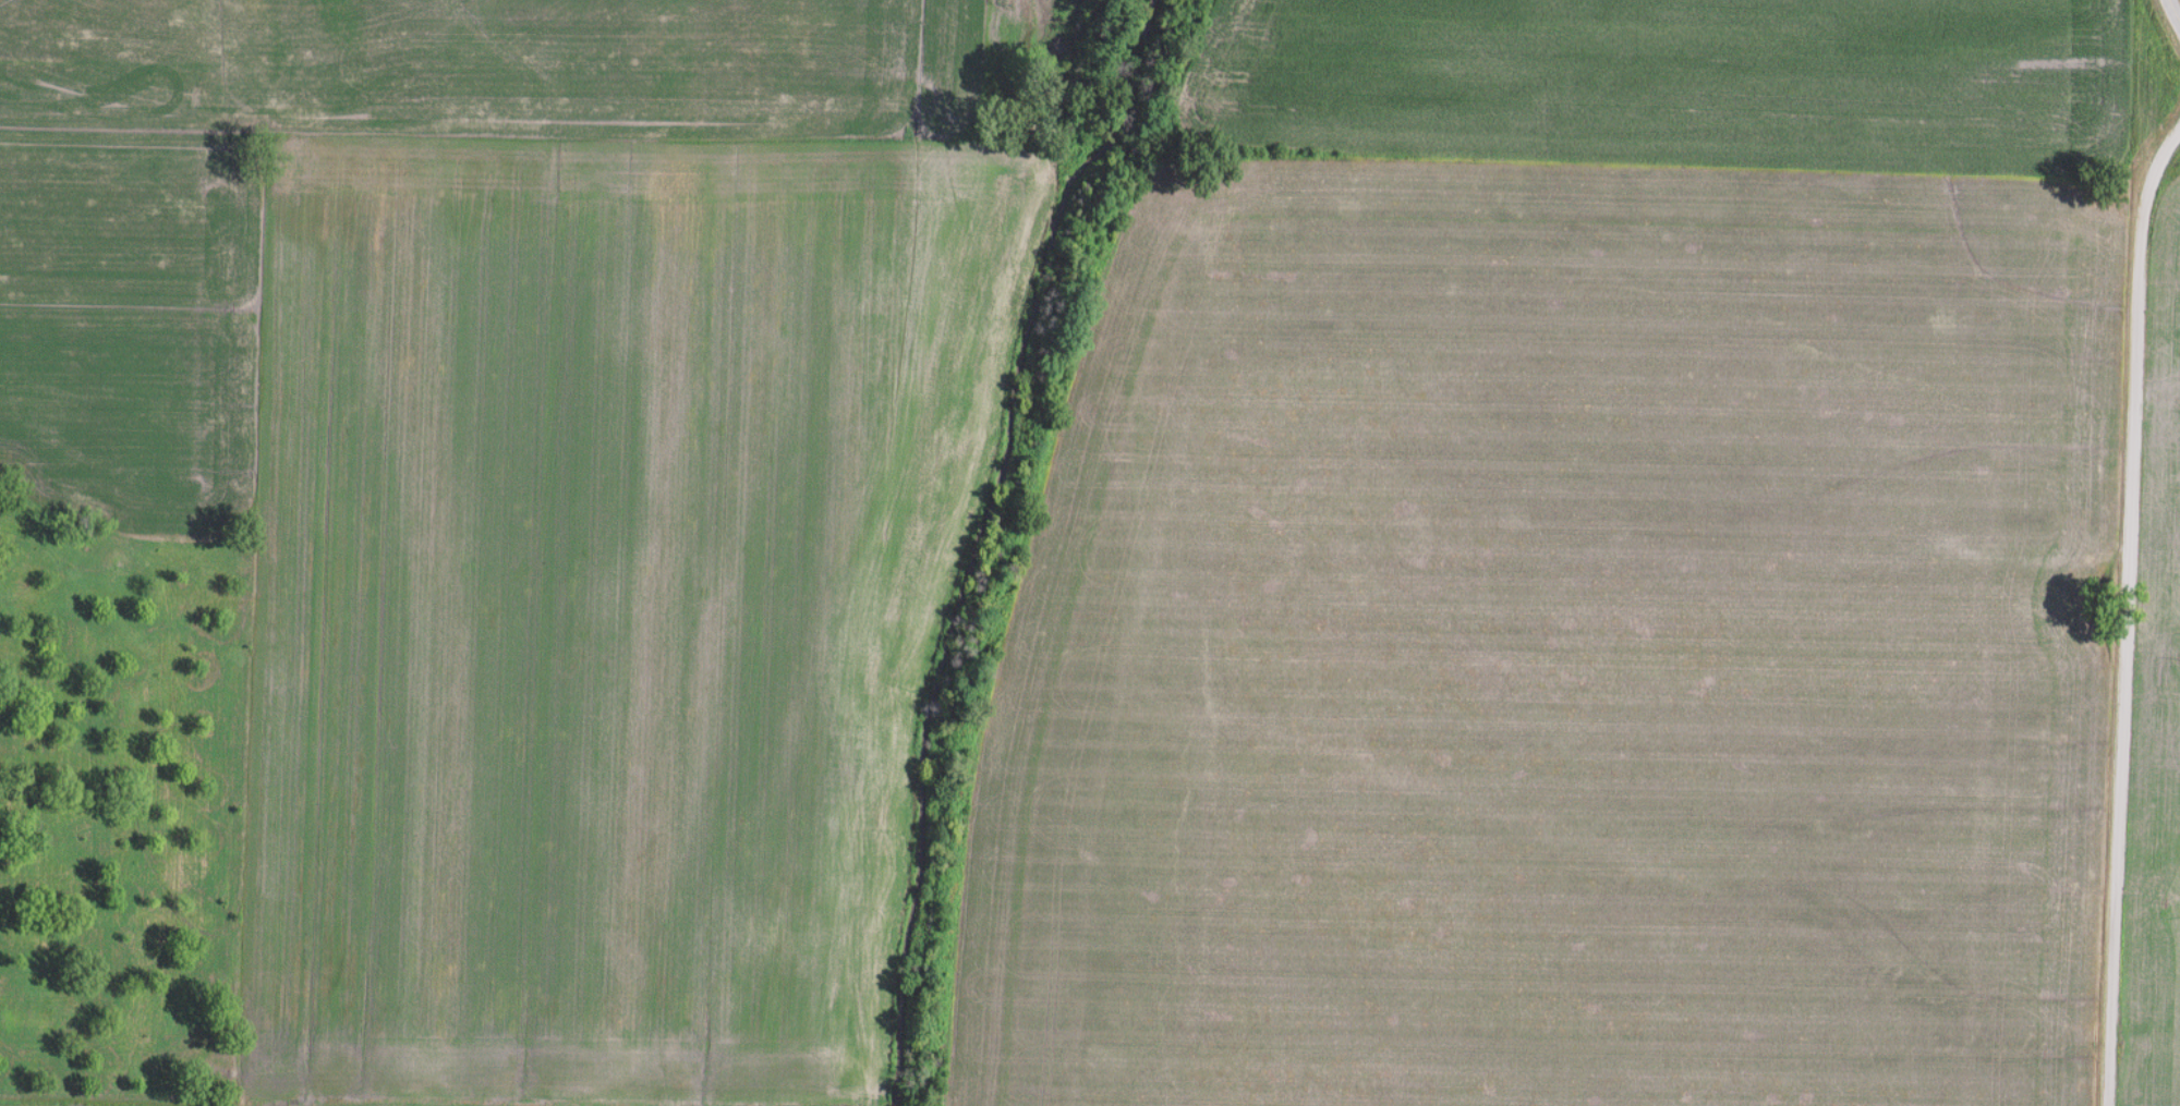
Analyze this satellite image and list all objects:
road: (2172, 11)
road: (2124, 615)

